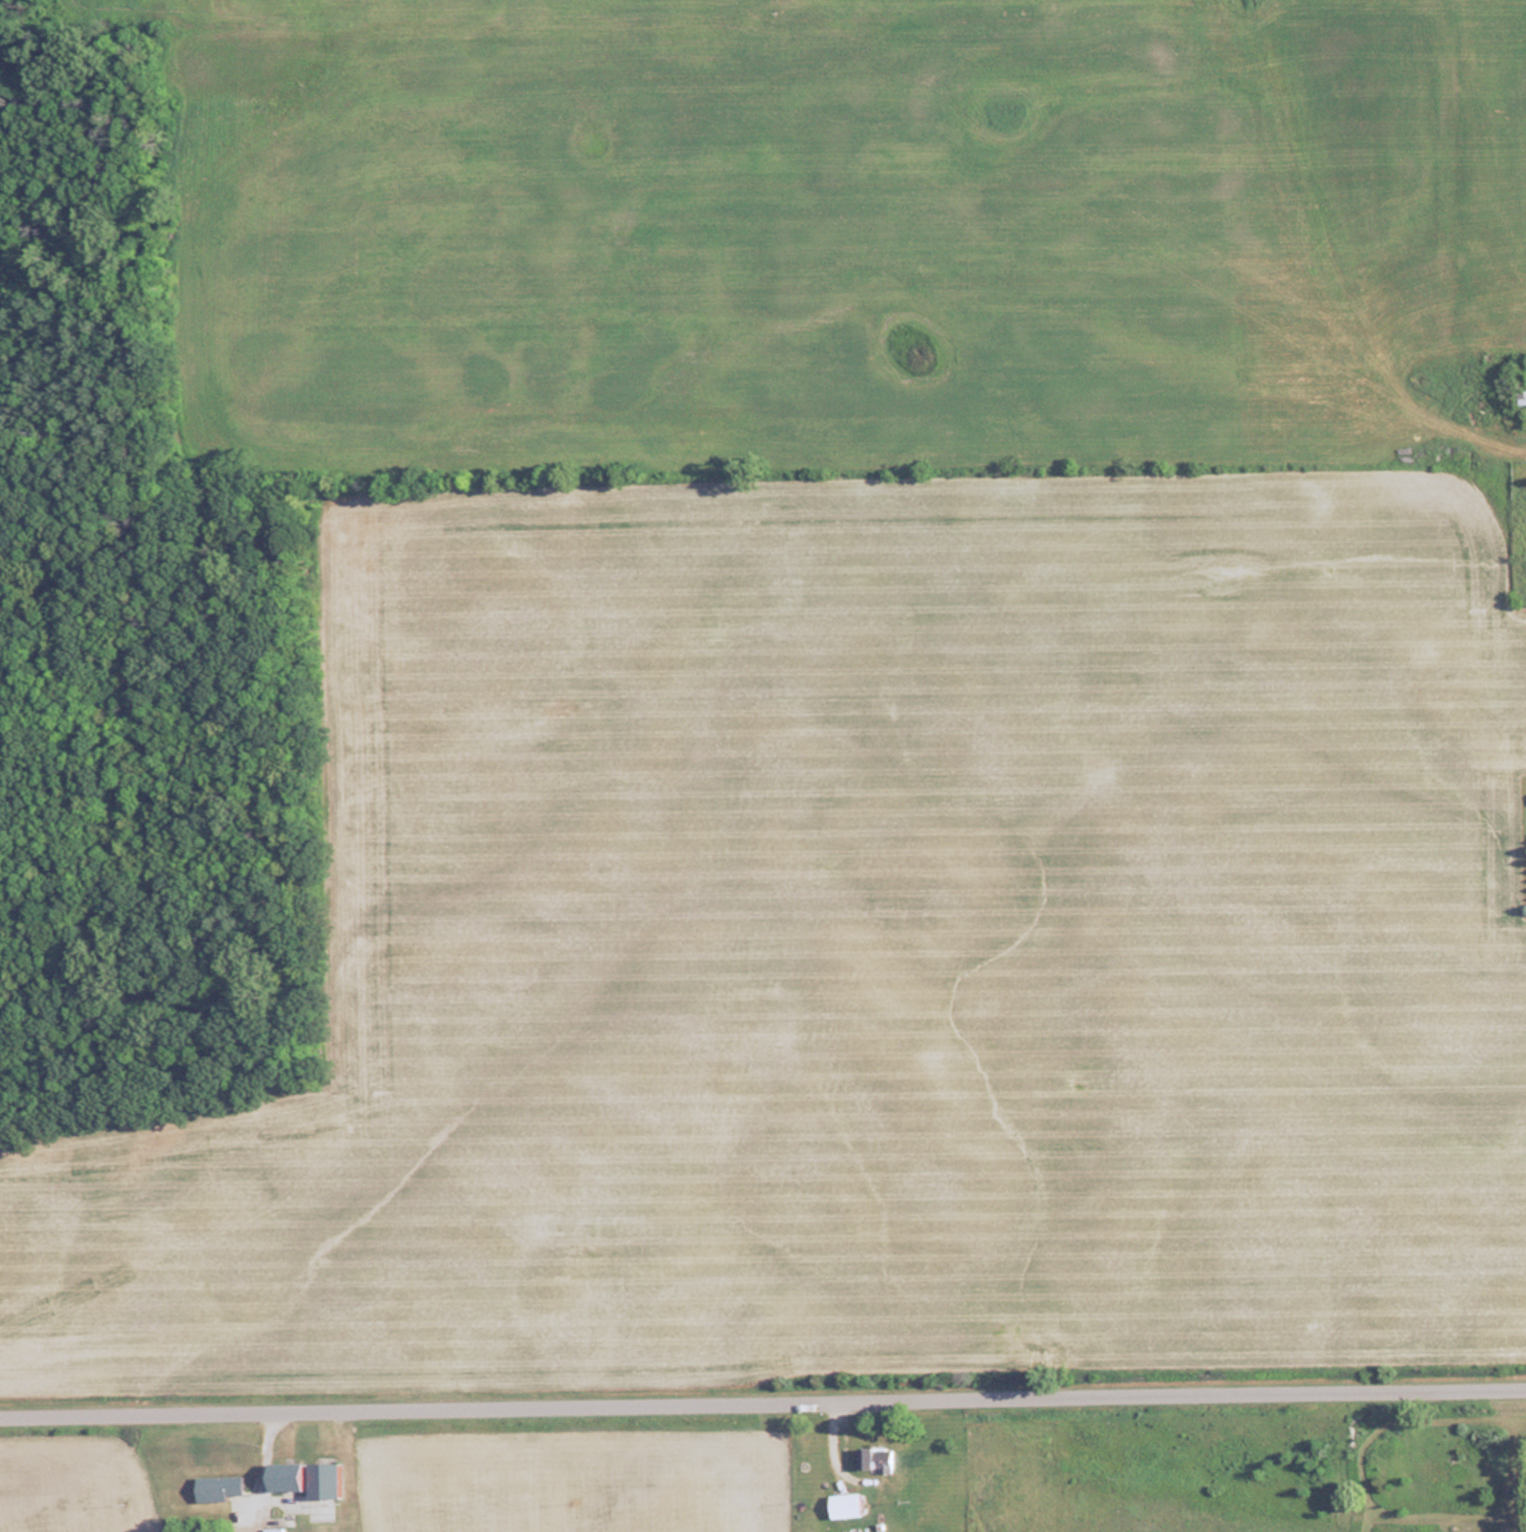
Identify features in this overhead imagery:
road: (763, 1405)
building: (875, 1460)
building: (304, 1478)
building: (215, 1487)
building: (843, 1505)

